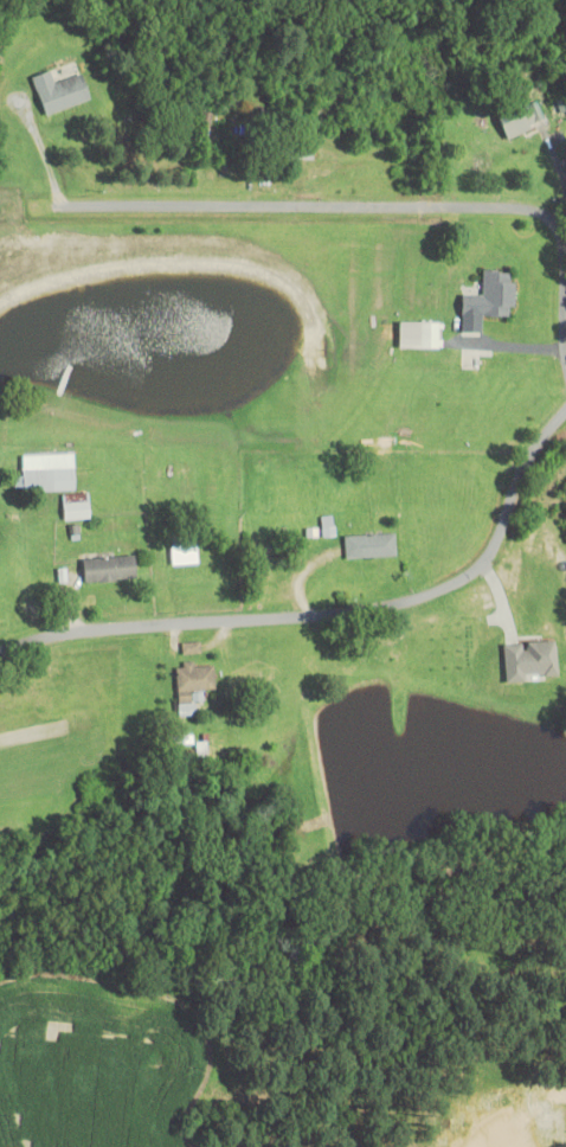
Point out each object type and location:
building: (59, 90)
building: (522, 120)
road: (323, 212)
building: (488, 301)
building: (420, 334)
building: (49, 474)
building: (76, 506)
building: (327, 525)
building: (369, 545)
building: (184, 553)
building: (108, 568)
road: (329, 620)
building: (529, 660)
building: (193, 685)

